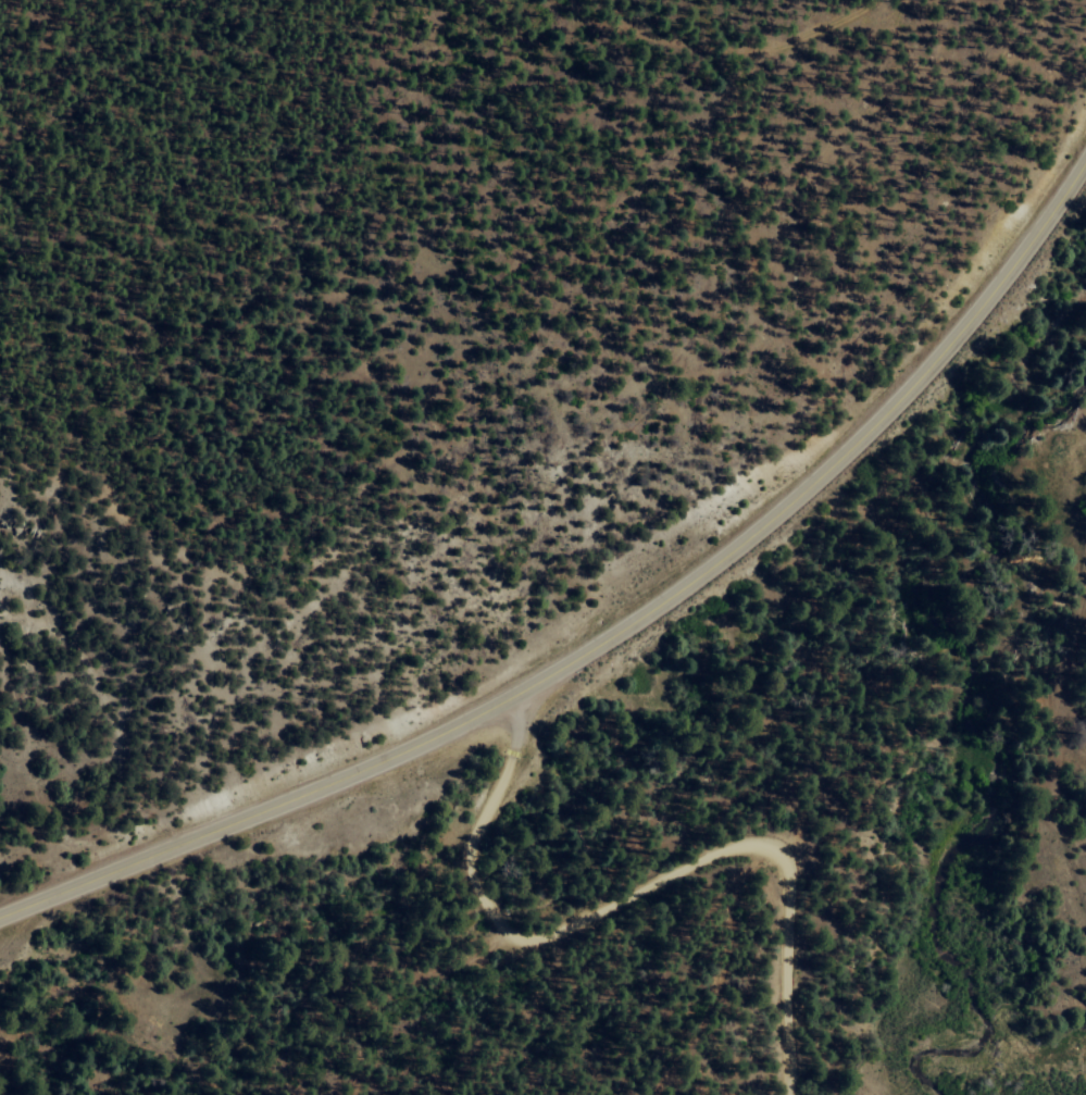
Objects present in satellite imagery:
road: (619, 14)
road: (1052, 199)
road: (564, 665)
road: (1038, 681)
road: (637, 893)

